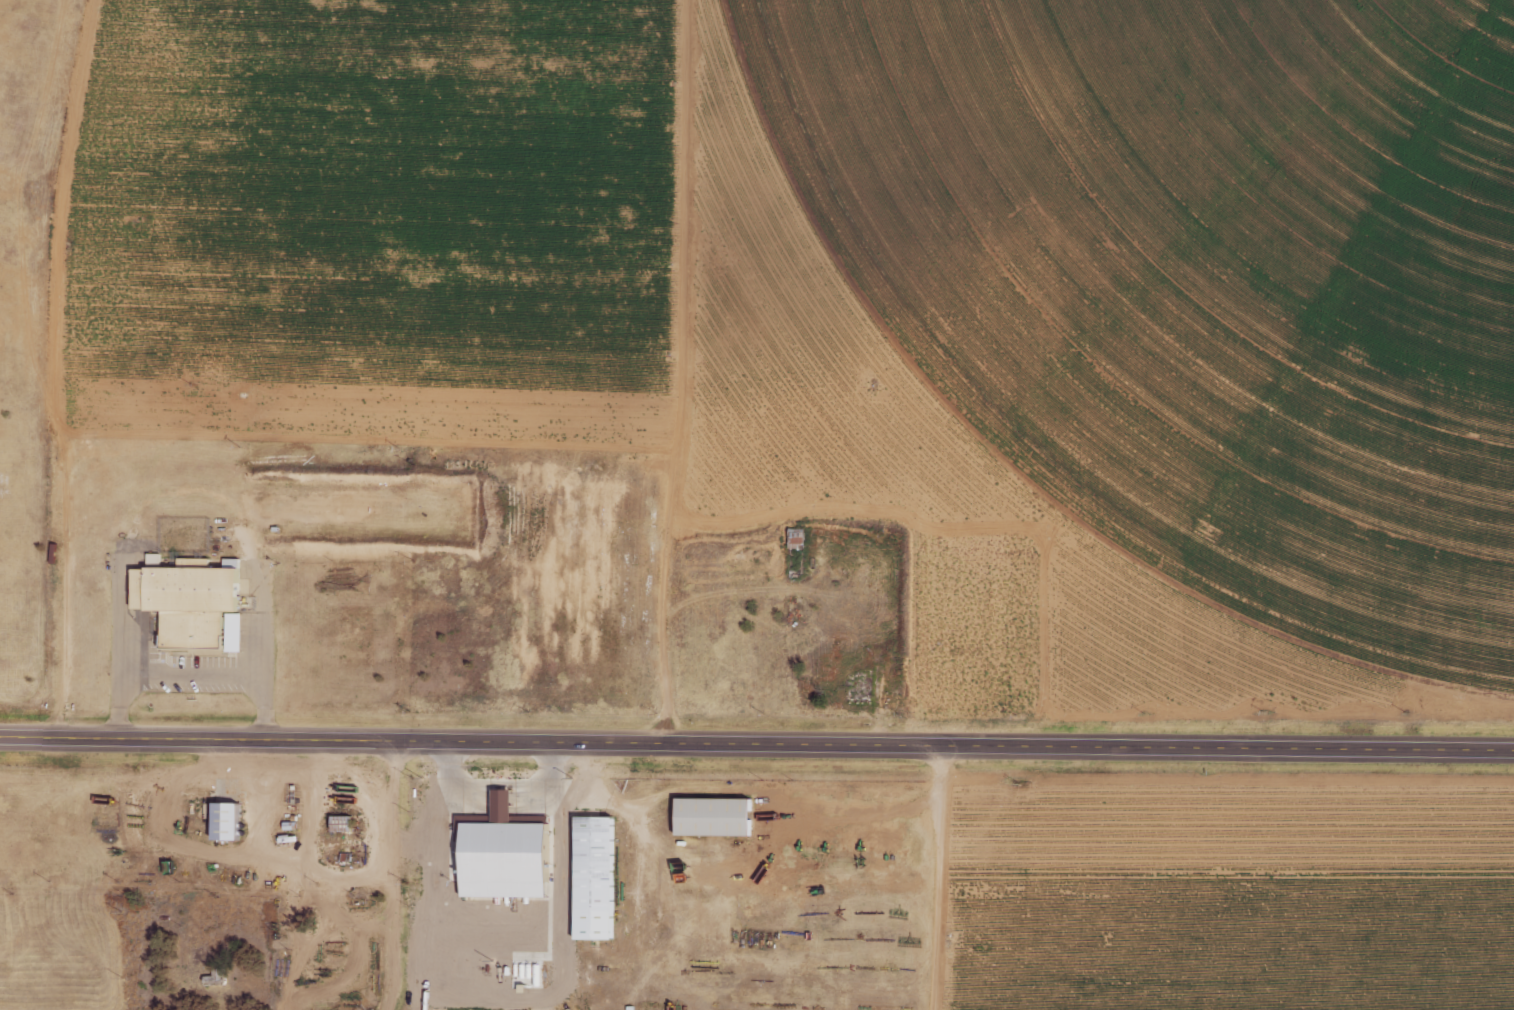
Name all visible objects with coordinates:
building: (196, 601)
road: (191, 676)
road: (756, 747)
road: (320, 782)
road: (498, 783)
building: (722, 816)
building: (221, 820)
building: (338, 823)
building: (500, 854)
road: (395, 877)
road: (938, 879)
building: (605, 881)
road: (492, 999)

